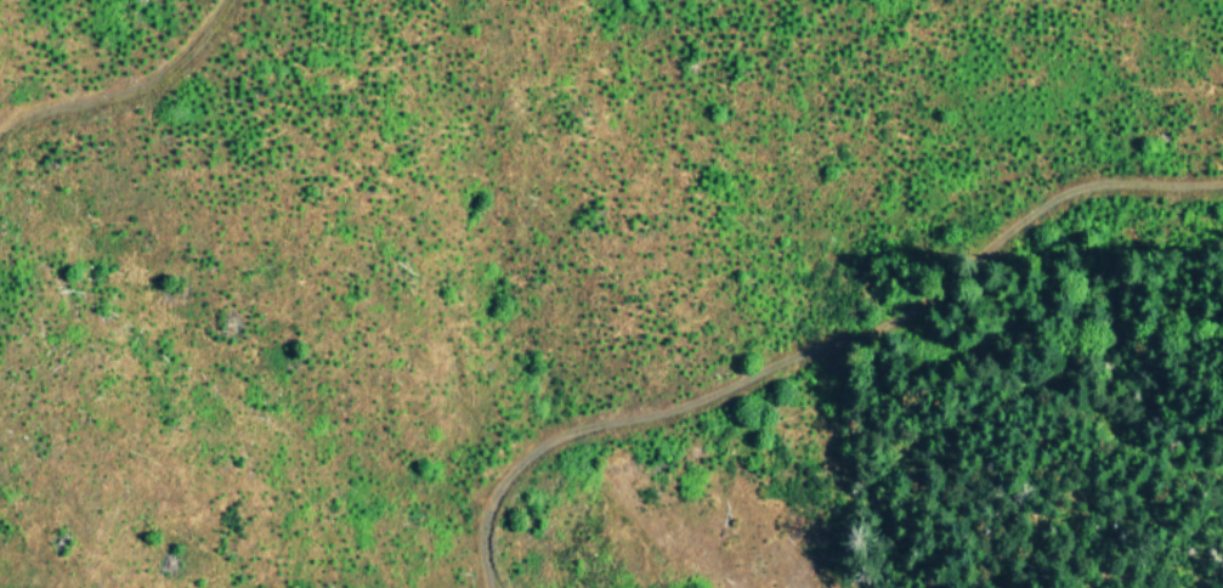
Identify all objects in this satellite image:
road: (825, 345)

